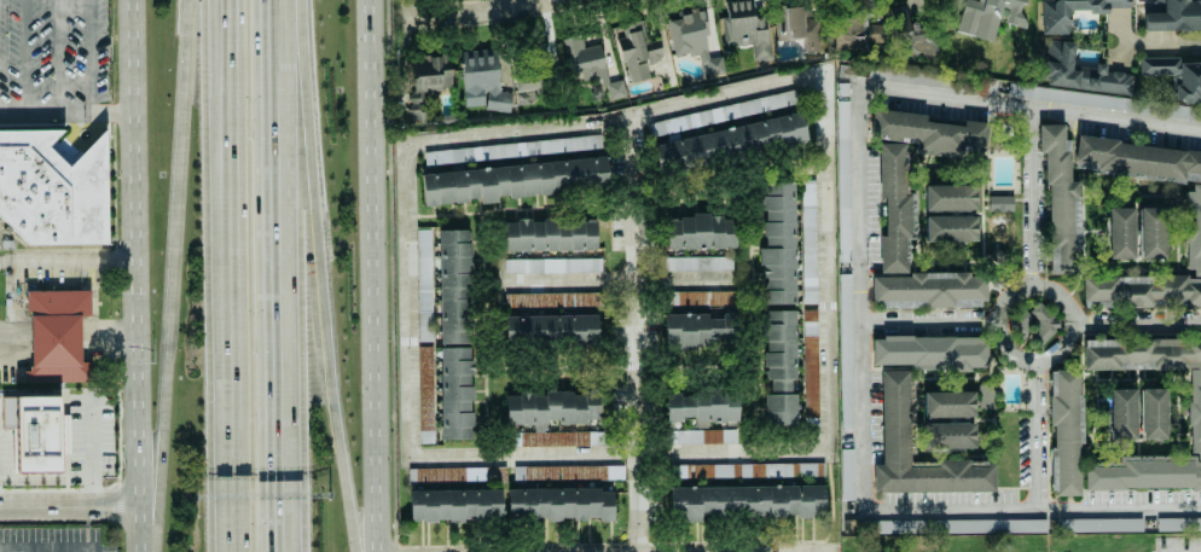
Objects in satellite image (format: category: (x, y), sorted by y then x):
road: (545, 2)
road: (460, 12)
building: (1174, 14)
building: (986, 16)
building: (857, 17)
building: (1056, 22)
building: (797, 25)
building: (744, 28)
building: (874, 31)
building: (842, 33)
building: (692, 36)
road: (1160, 46)
building: (638, 48)
road: (87, 56)
road: (220, 62)
road: (233, 62)
building: (587, 65)
building: (847, 70)
building: (1080, 71)
building: (1176, 76)
building: (529, 77)
building: (482, 80)
building: (423, 85)
building: (841, 88)
road: (1029, 108)
road: (43, 111)
road: (108, 111)
building: (1180, 111)
building: (723, 112)
building: (928, 132)
building: (730, 141)
building: (512, 149)
building: (1137, 159)
building: (843, 178)
building: (511, 180)
building: (53, 187)
building: (950, 197)
road: (1033, 197)
building: (1060, 201)
building: (1000, 203)
building: (894, 207)
building: (950, 227)
building: (1193, 228)
building: (700, 231)
building: (1120, 232)
building: (1151, 232)
building: (549, 234)
building: (808, 242)
building: (778, 244)
road: (173, 256)
building: (697, 262)
road: (65, 263)
building: (552, 265)
road: (336, 271)
road: (132, 275)
road: (280, 275)
road: (377, 275)
road: (680, 279)
road: (578, 280)
building: (454, 285)
building: (424, 286)
building: (929, 289)
building: (1142, 290)
building: (701, 297)
road: (859, 297)
building: (584, 298)
road: (1071, 312)
road: (101, 315)
building: (1042, 319)
road: (1137, 324)
road: (928, 325)
building: (723, 327)
building: (550, 329)
building: (685, 330)
building: (57, 332)
road: (634, 332)
road: (230, 337)
building: (845, 349)
building: (930, 350)
building: (810, 360)
building: (779, 367)
building: (456, 391)
building: (986, 397)
building: (947, 403)
building: (701, 405)
building: (1153, 412)
building: (1195, 412)
building: (1121, 413)
building: (894, 414)
building: (550, 416)
road: (95, 419)
building: (34, 430)
building: (1066, 432)
building: (948, 435)
road: (1035, 435)
building: (702, 436)
road: (643, 447)
building: (754, 470)
building: (449, 473)
building: (847, 473)
building: (744, 500)
building: (559, 502)
building: (454, 504)
road: (1032, 509)
road: (70, 510)
building: (1098, 524)
building: (852, 525)
building: (953, 525)
parking lot: (1178, 544)
road: (48, 551)

